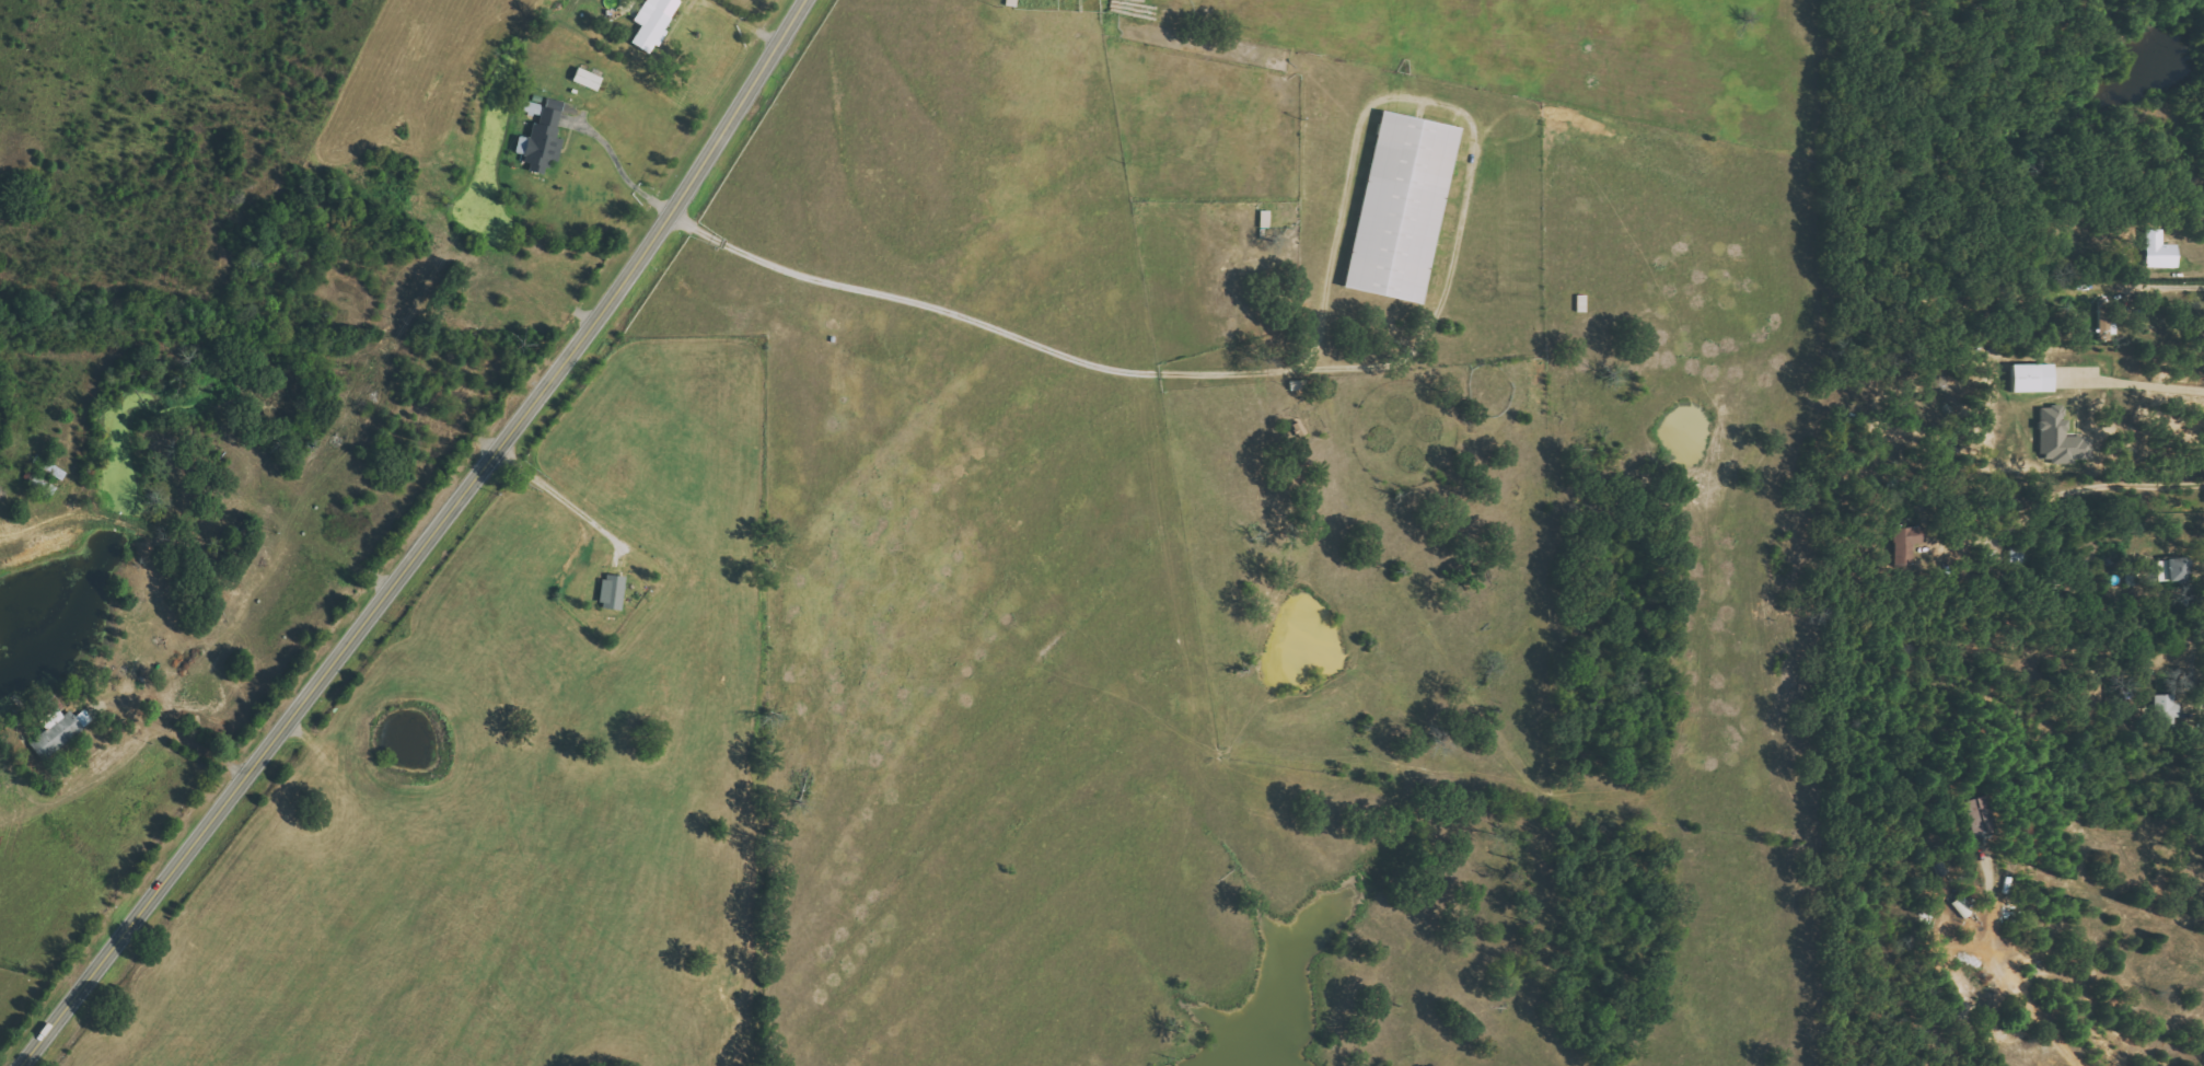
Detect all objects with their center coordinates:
building: (652, 24)
building: (542, 135)
road: (618, 165)
building: (1400, 207)
building: (2160, 251)
road: (2154, 285)
road: (1338, 366)
building: (2031, 378)
road: (2133, 383)
building: (2060, 438)
road: (2127, 484)
road: (571, 502)
road: (430, 544)
building: (1907, 544)
building: (2176, 569)
building: (612, 591)
road: (2200, 668)
building: (65, 722)
road: (177, 732)
building: (1967, 816)
road: (2028, 990)

